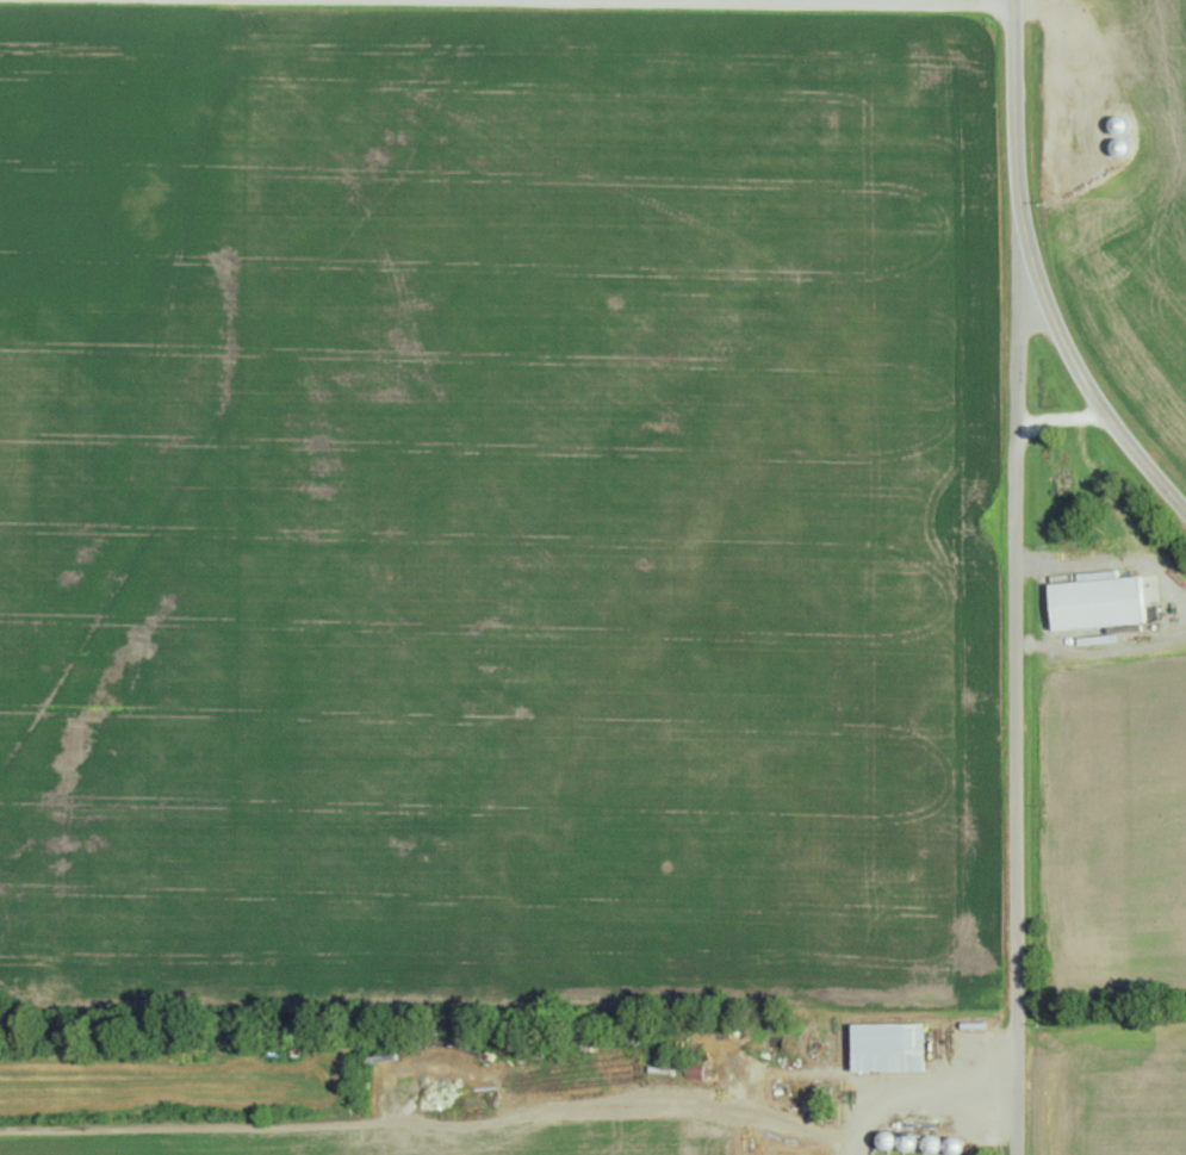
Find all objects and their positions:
road: (938, 0)
silo: (1123, 125)
silo: (1122, 147)
road: (1036, 272)
road: (1062, 420)
road: (1120, 508)
building: (1100, 603)
road: (1018, 646)
building: (892, 1048)
building: (757, 1074)
road: (919, 1089)
road: (433, 1124)
silo: (890, 1141)
silo: (911, 1142)
silo: (934, 1144)
silo: (956, 1145)

